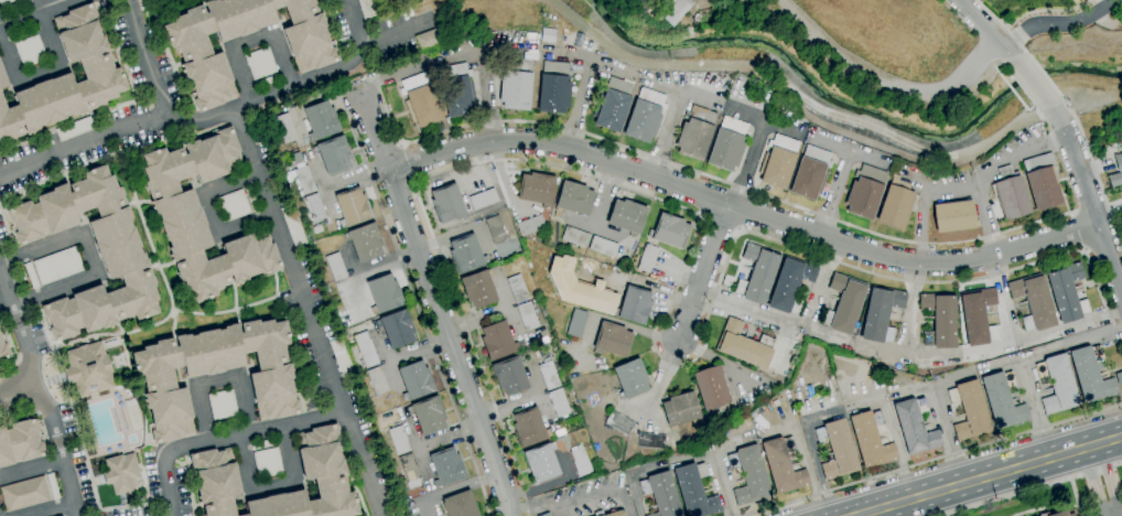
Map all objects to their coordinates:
building: (139, 0)
building: (4, 1)
road: (36, 6)
building: (13, 7)
building: (367, 8)
building: (670, 9)
road: (33, 12)
road: (1057, 23)
road: (1003, 28)
road: (989, 31)
building: (23, 33)
road: (395, 35)
building: (431, 39)
road: (252, 42)
building: (30, 51)
road: (461, 55)
building: (315, 56)
road: (149, 60)
building: (260, 63)
road: (42, 72)
road: (1044, 77)
building: (2, 79)
building: (66, 79)
road: (882, 80)
building: (267, 82)
road: (587, 82)
road: (1032, 82)
building: (516, 84)
building: (554, 87)
road: (680, 92)
building: (460, 95)
road: (798, 95)
road: (695, 97)
building: (614, 105)
building: (646, 115)
road: (213, 117)
building: (322, 120)
building: (285, 128)
building: (74, 129)
building: (695, 132)
building: (729, 144)
road: (1017, 151)
building: (334, 155)
building: (779, 162)
building: (1119, 162)
road: (749, 164)
road: (1093, 171)
building: (811, 173)
road: (716, 179)
building: (304, 180)
building: (1043, 181)
building: (537, 189)
building: (866, 191)
building: (1011, 193)
road: (833, 194)
road: (1088, 196)
building: (251, 198)
building: (483, 198)
building: (573, 200)
road: (924, 201)
building: (447, 204)
building: (897, 204)
building: (234, 205)
building: (314, 207)
building: (353, 207)
road: (742, 208)
road: (211, 211)
building: (203, 216)
building: (627, 216)
building: (954, 216)
road: (986, 218)
building: (530, 225)
building: (293, 227)
building: (496, 229)
building: (670, 232)
road: (1077, 233)
building: (575, 237)
building: (365, 241)
building: (603, 246)
building: (120, 252)
building: (466, 254)
road: (91, 257)
building: (648, 258)
building: (57, 266)
building: (336, 266)
road: (702, 270)
building: (31, 275)
building: (757, 275)
building: (604, 282)
road: (677, 282)
road: (821, 284)
building: (790, 286)
building: (479, 289)
building: (517, 289)
road: (10, 291)
building: (1067, 292)
building: (384, 294)
road: (414, 301)
building: (1034, 303)
building: (843, 304)
building: (635, 305)
road: (7, 307)
road: (438, 308)
road: (909, 309)
building: (881, 313)
building: (527, 315)
building: (978, 316)
building: (939, 320)
building: (576, 323)
building: (397, 329)
building: (613, 340)
building: (498, 341)
building: (743, 346)
building: (3, 348)
building: (366, 350)
road: (906, 355)
building: (127, 357)
building: (342, 357)
road: (1022, 357)
building: (360, 363)
road: (997, 365)
building: (89, 368)
building: (215, 373)
building: (1091, 374)
building: (549, 375)
road: (332, 376)
building: (510, 376)
building: (630, 378)
road: (216, 379)
building: (378, 380)
building: (417, 380)
road: (29, 381)
building: (1058, 384)
road: (14, 388)
building: (712, 389)
road: (918, 389)
building: (1003, 400)
building: (559, 402)
building: (223, 405)
building: (680, 410)
building: (970, 410)
building: (133, 415)
building: (428, 416)
road: (940, 416)
building: (619, 422)
building: (226, 423)
building: (915, 427)
building: (528, 428)
road: (892, 434)
road: (1114, 437)
building: (871, 439)
building: (399, 440)
building: (651, 440)
building: (20, 442)
building: (263, 443)
road: (1094, 443)
road: (725, 445)
building: (837, 449)
road: (811, 451)
road: (802, 455)
road: (1045, 456)
road: (680, 459)
road: (935, 460)
building: (268, 462)
building: (541, 462)
building: (581, 462)
road: (364, 465)
building: (783, 465)
road: (32, 466)
building: (447, 467)
building: (323, 469)
building: (410, 471)
building: (122, 473)
building: (749, 475)
road: (1104, 475)
road: (68, 476)
road: (1092, 479)
building: (216, 481)
road: (269, 485)
building: (53, 486)
road: (453, 490)
road: (1033, 490)
building: (694, 491)
road: (928, 492)
building: (24, 493)
building: (661, 494)
road: (575, 498)
building: (460, 505)
road: (911, 507)
road: (53, 509)
road: (1109, 512)
building: (611, 513)
building: (1057, 514)
building: (544, 515)

